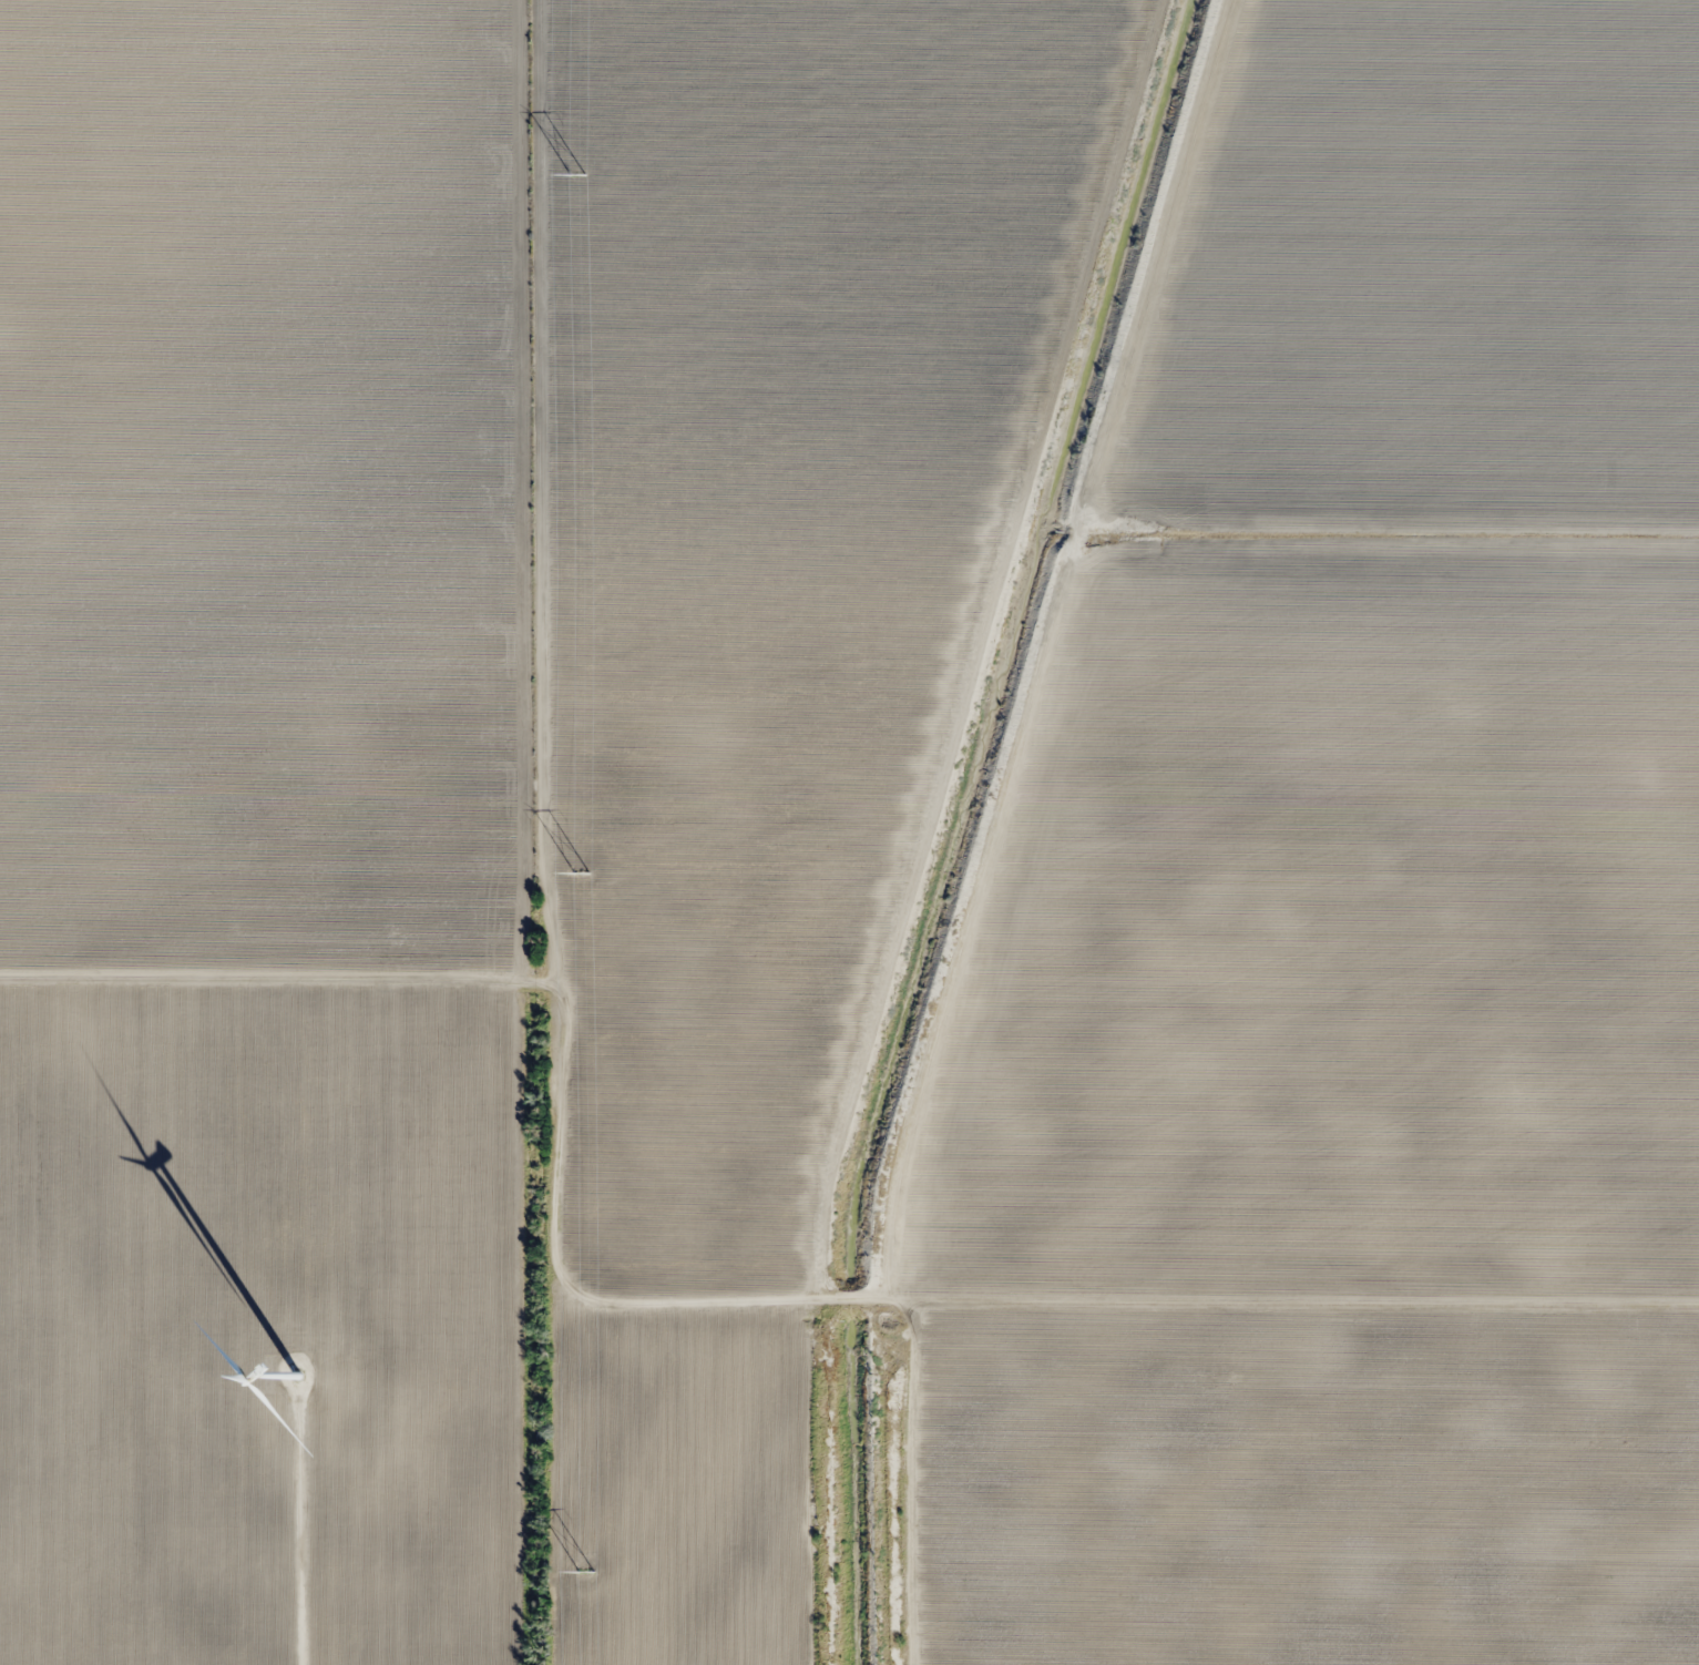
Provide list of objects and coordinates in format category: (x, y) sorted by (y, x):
power tower: (575, 177)
power tower: (581, 874)
wind turbine: (295, 1377)
road: (296, 1521)
power tower: (584, 1571)

